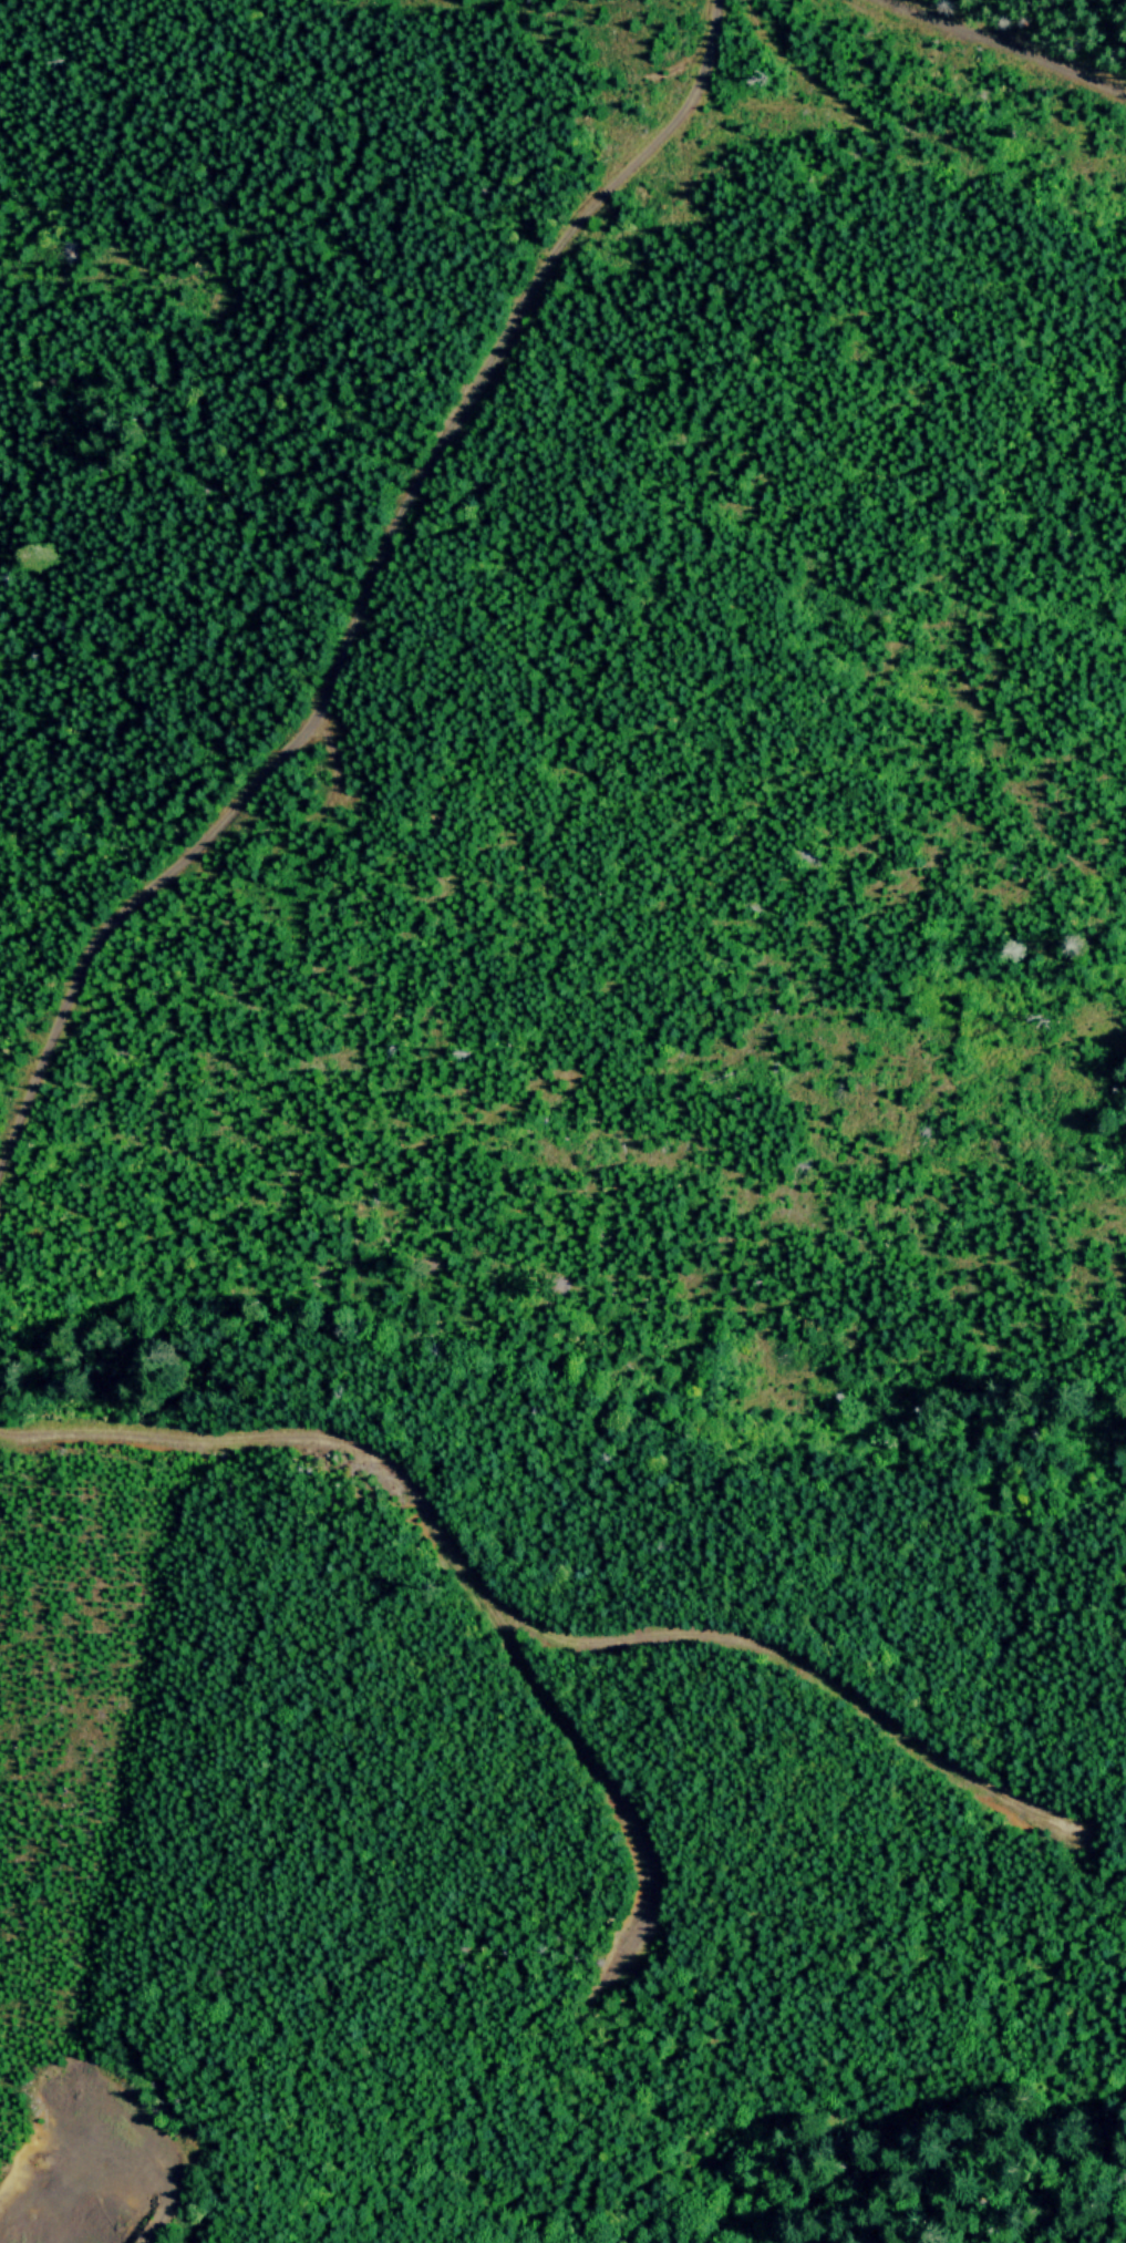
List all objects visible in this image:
road: (990, 43)
road: (792, 69)
road: (370, 585)
road: (599, 810)
road: (740, 842)

